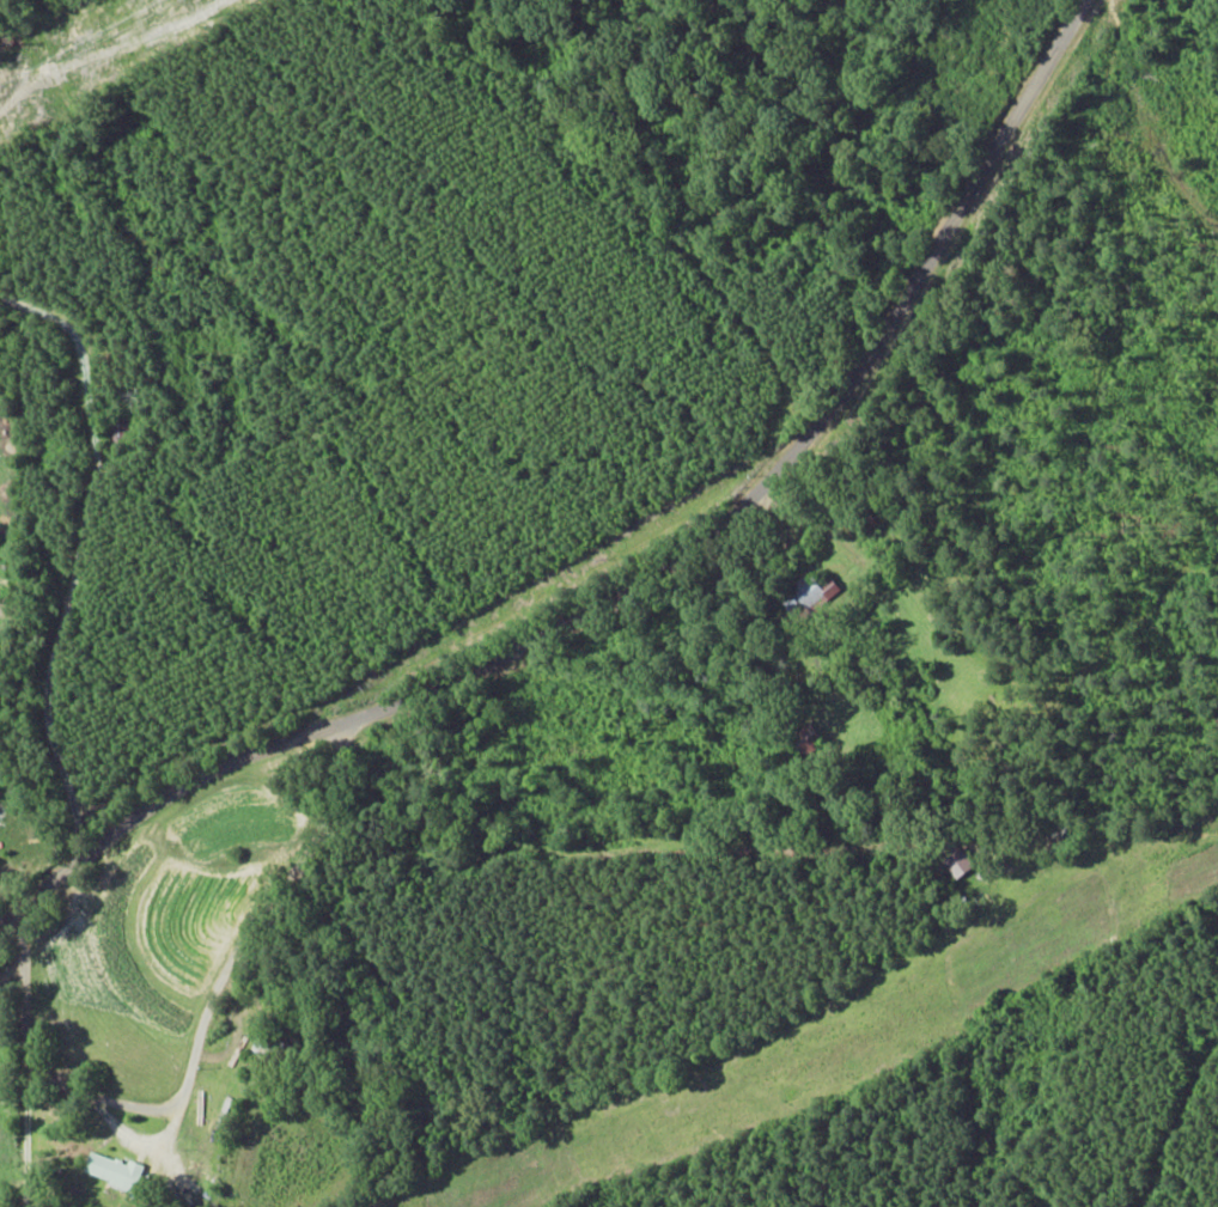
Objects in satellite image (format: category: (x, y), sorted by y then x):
building: (805, 598)
road: (677, 639)
road: (36, 701)
building: (956, 861)
road: (665, 943)
road: (246, 1010)
building: (112, 1170)

